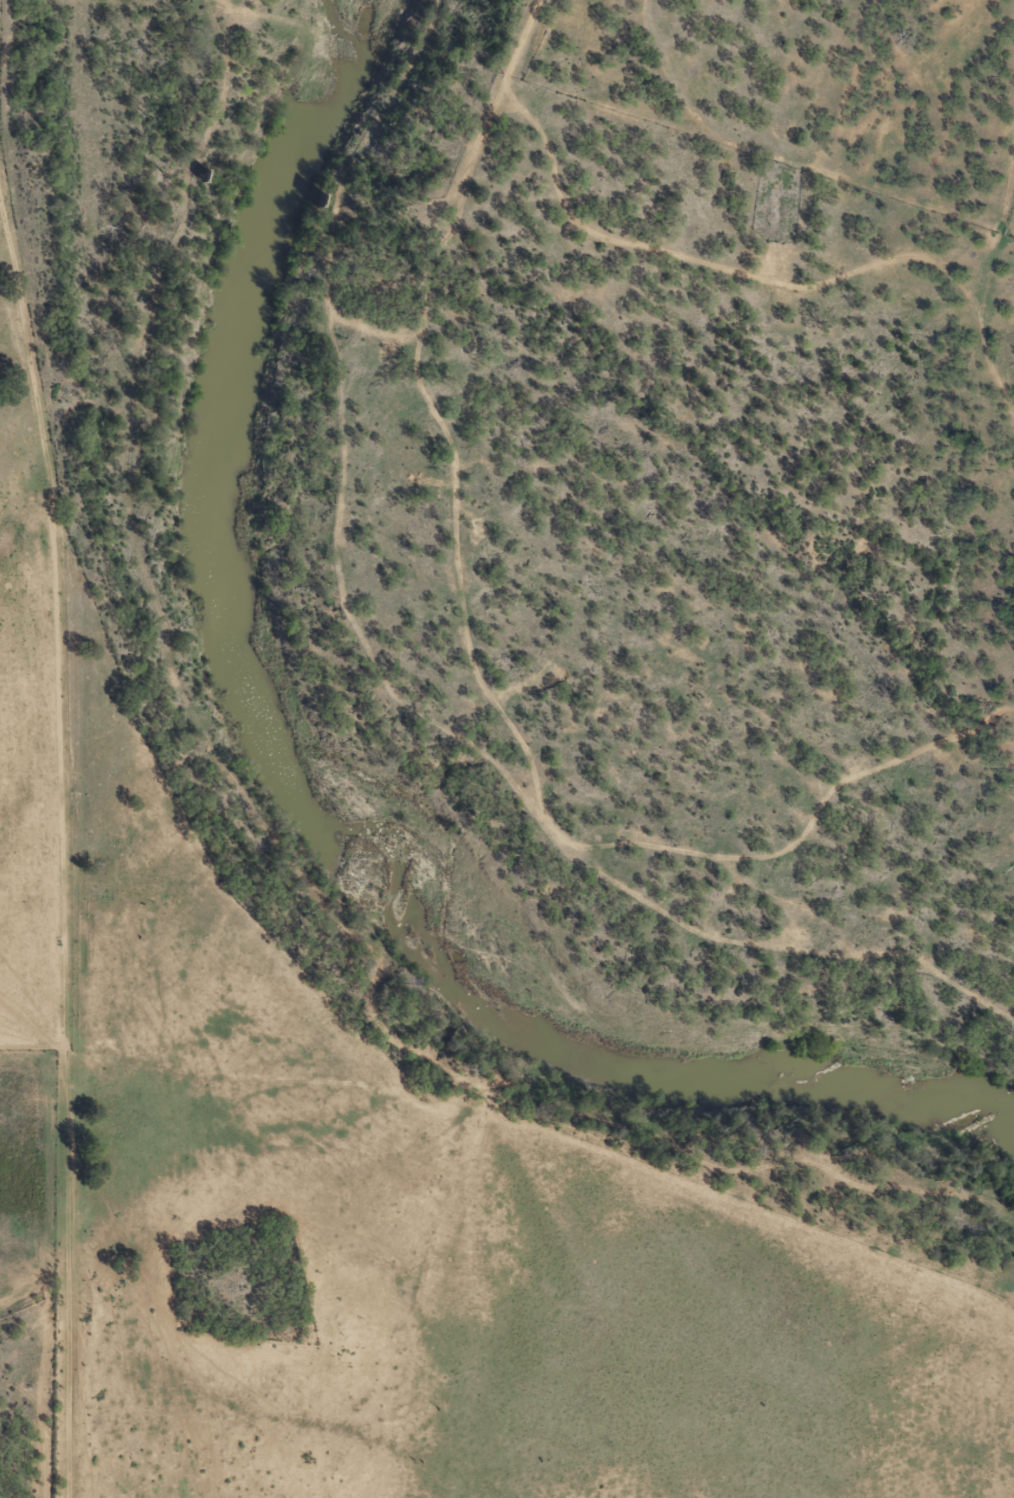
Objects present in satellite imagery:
road: (672, 145)
river: (311, 791)
road: (64, 1083)
park: (240, 1273)

